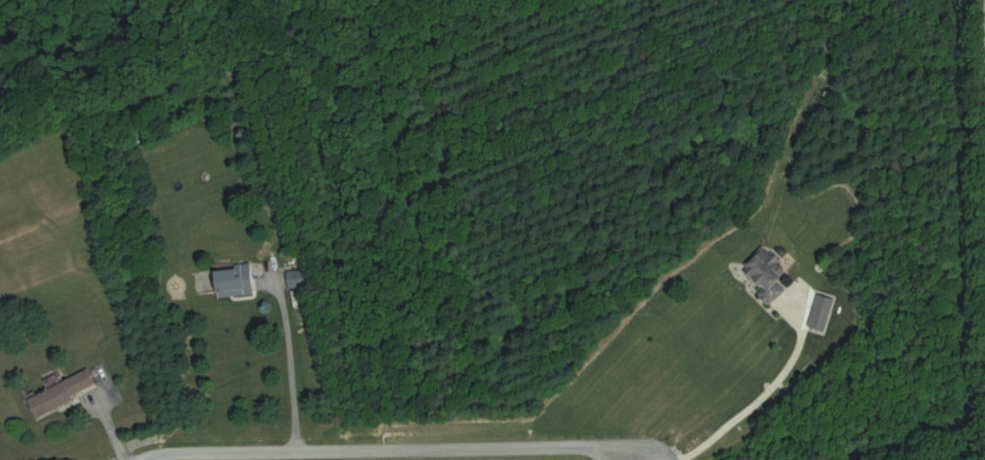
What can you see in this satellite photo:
building: (769, 274)
building: (296, 279)
building: (234, 281)
building: (820, 316)
road: (294, 338)
road: (765, 387)
building: (62, 392)
road: (386, 435)
road: (88, 459)

